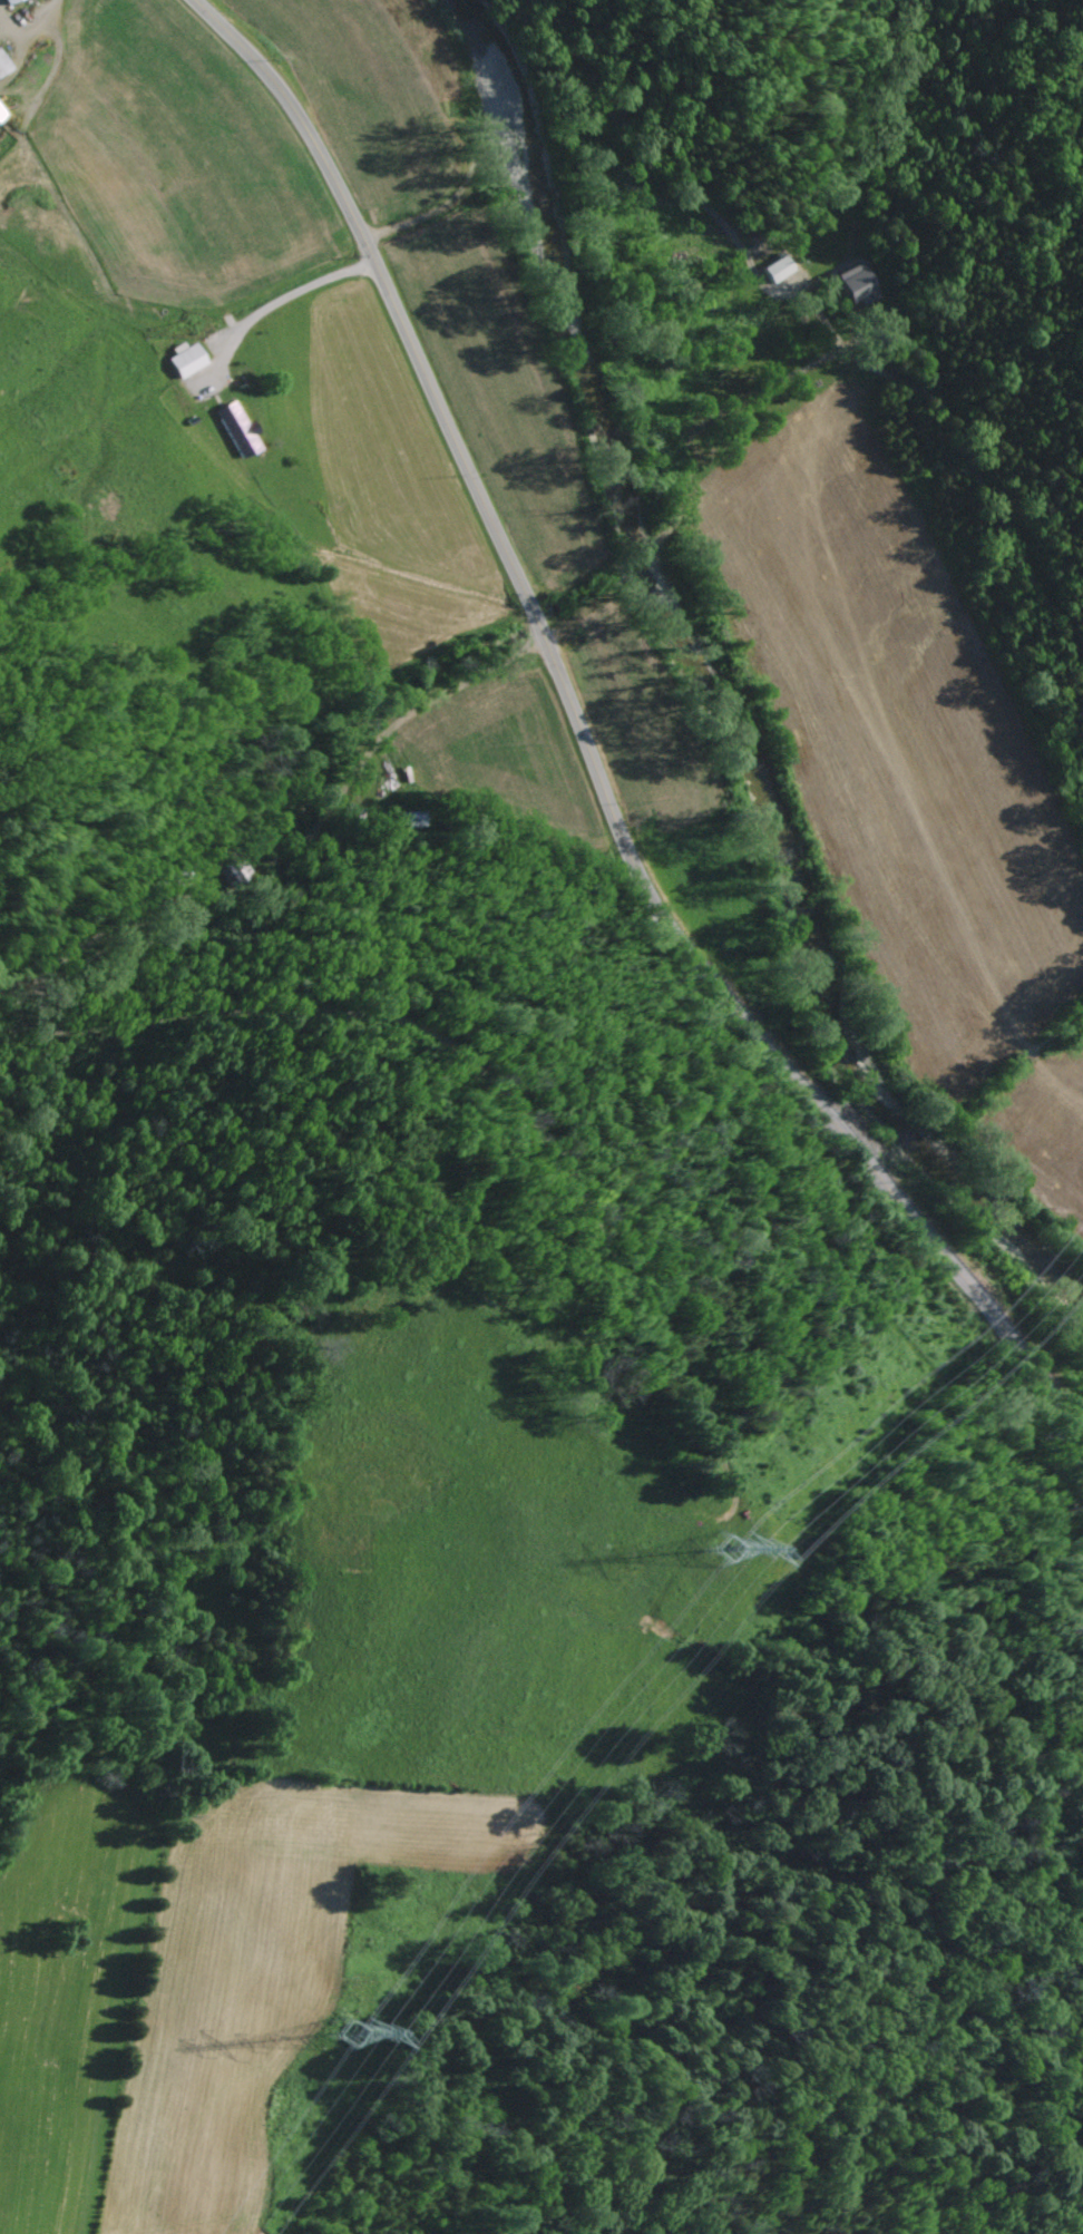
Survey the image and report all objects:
building: (9, 2)
building: (3, 67)
building: (1, 118)
road: (575, 147)
building: (774, 270)
building: (855, 284)
road: (276, 303)
building: (185, 360)
building: (235, 430)
road: (451, 692)
road: (584, 749)
power tower: (723, 1551)
power tower: (349, 2037)

